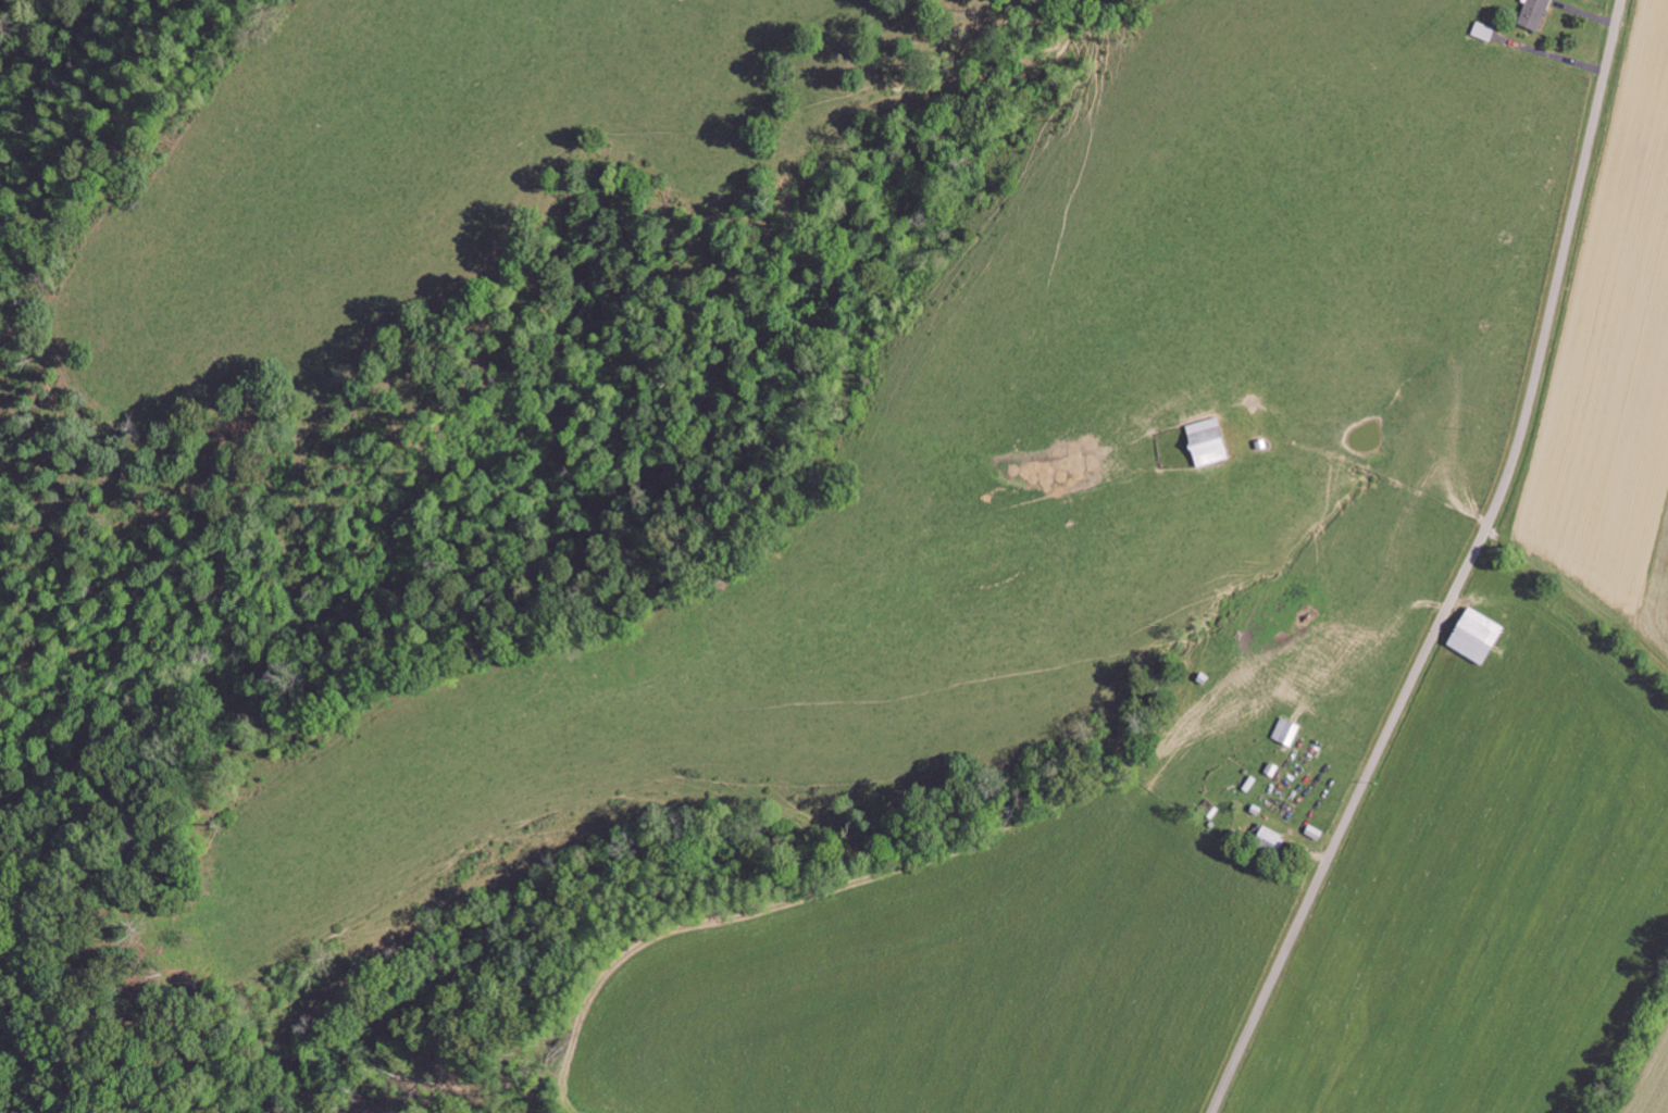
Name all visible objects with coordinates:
building: (1535, 12)
building: (1209, 440)
road: (1461, 573)
building: (1479, 635)
building: (1286, 730)
building: (1269, 838)

